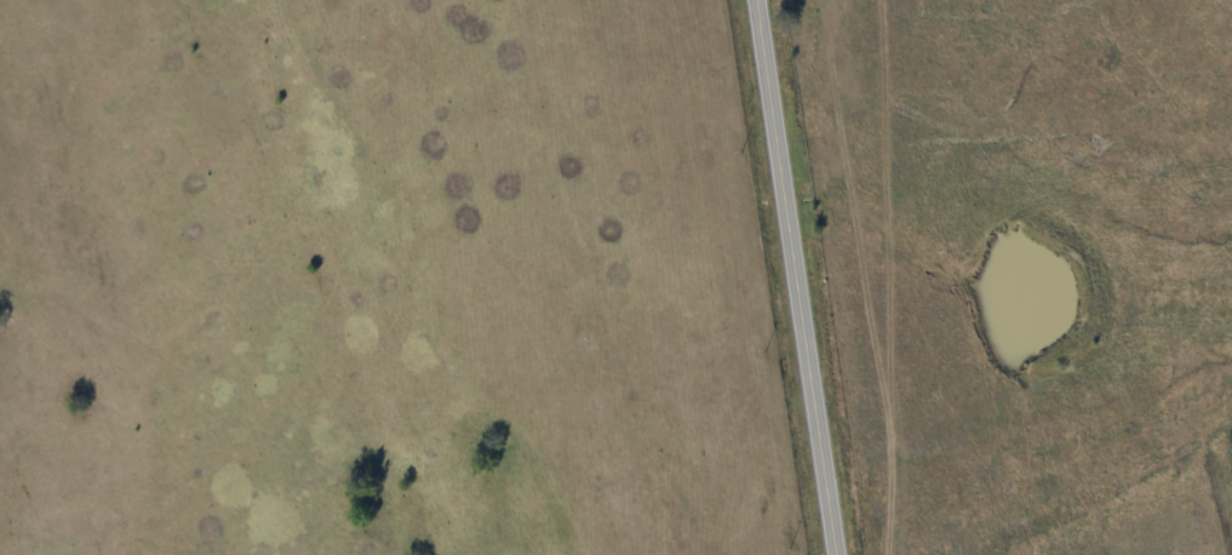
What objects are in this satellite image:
road: (797, 277)

